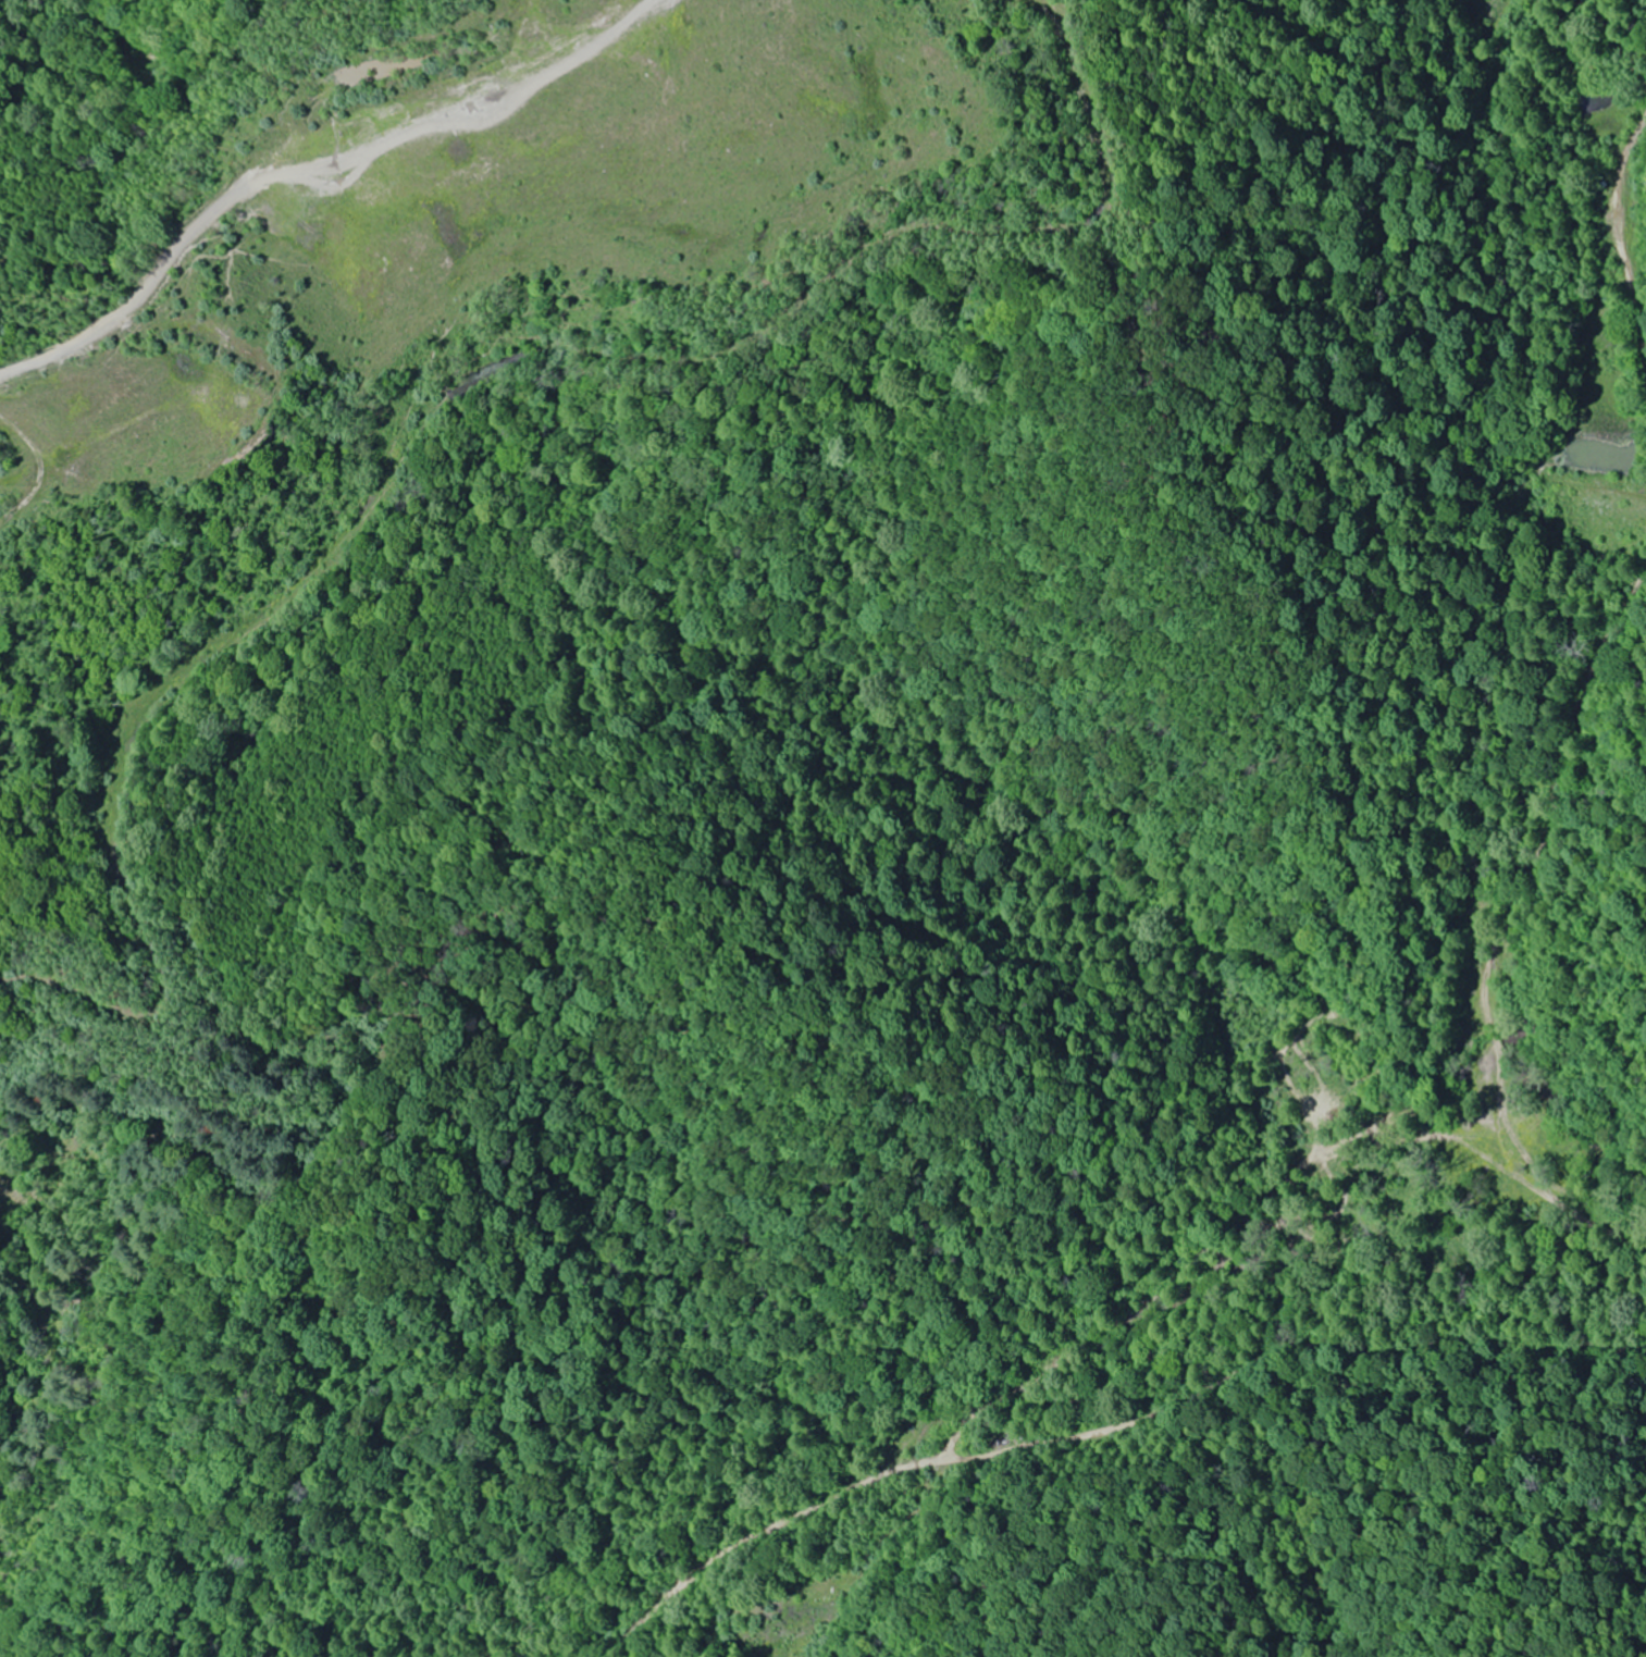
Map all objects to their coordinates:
road: (1307, 1304)
road: (858, 1566)

